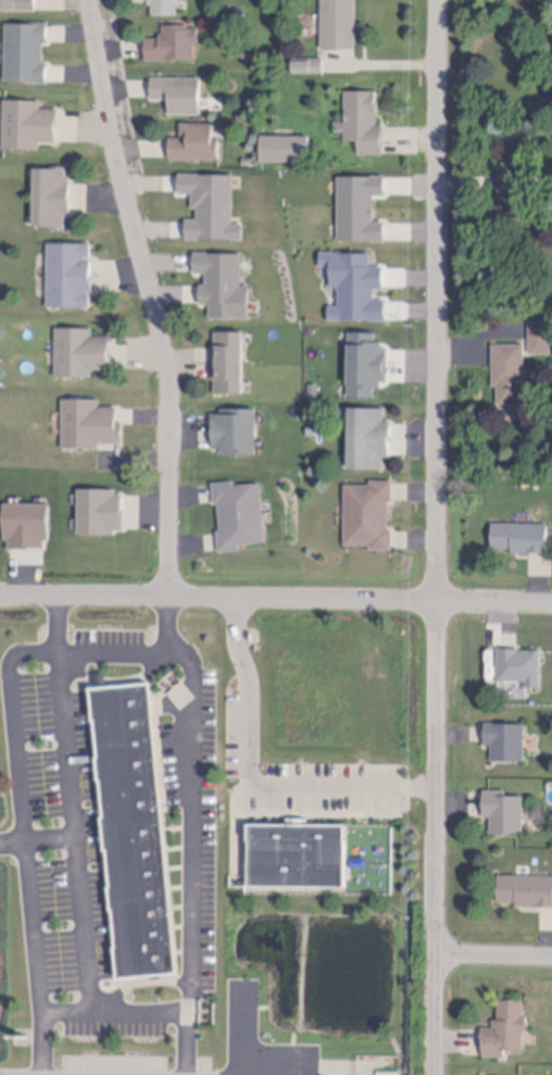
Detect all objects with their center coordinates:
building: (18, 8)
building: (164, 9)
building: (340, 26)
building: (175, 50)
building: (28, 59)
building: (312, 72)
building: (181, 101)
building: (366, 128)
building: (30, 132)
building: (198, 149)
building: (287, 155)
building: (514, 204)
building: (54, 205)
building: (72, 282)
road: (152, 295)
road: (438, 300)
building: (540, 341)
building: (83, 359)
building: (230, 370)
building: (512, 378)
building: (91, 429)
building: (313, 434)
building: (237, 437)
building: (371, 445)
building: (102, 517)
building: (369, 520)
building: (240, 521)
building: (28, 532)
building: (522, 541)
road: (217, 597)
road: (494, 601)
building: (519, 663)
building: (99, 679)
road: (113, 680)
road: (249, 692)
building: (506, 738)
road: (17, 783)
road: (344, 788)
road: (71, 803)
building: (504, 809)
road: (317, 813)
road: (236, 824)
building: (133, 830)
road: (190, 830)
road: (436, 838)
road: (36, 840)
building: (297, 855)
building: (526, 887)
road: (493, 957)
road: (137, 983)
road: (112, 1013)
building: (506, 1026)
road: (240, 1029)
road: (299, 1071)
building: (493, 1074)

